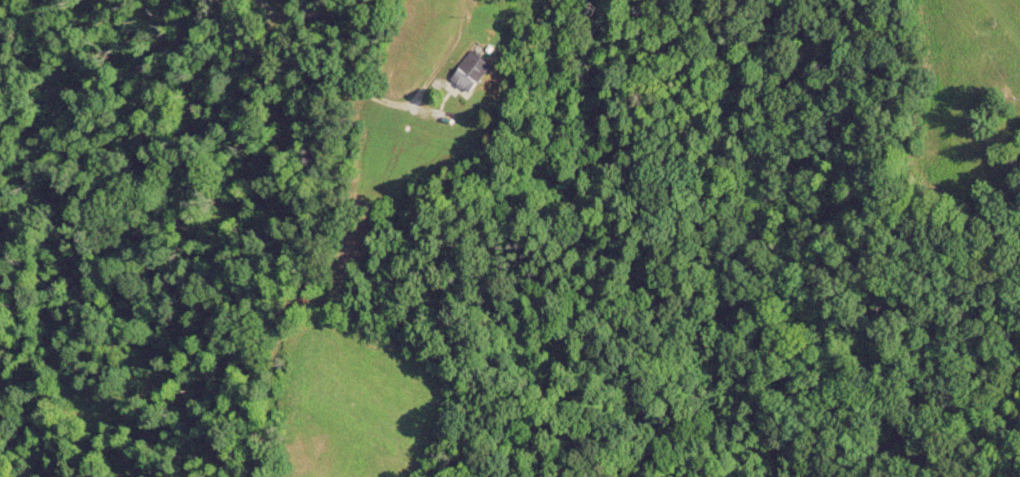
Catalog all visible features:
road: (979, 44)
building: (466, 72)
road: (320, 86)

